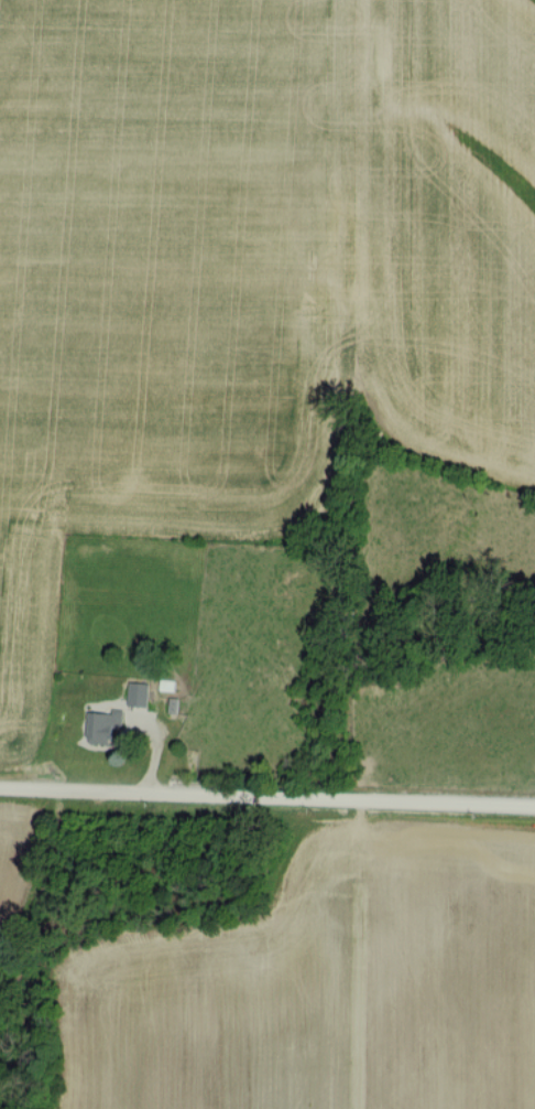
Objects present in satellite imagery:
building: (138, 692)
building: (102, 725)
road: (266, 797)

